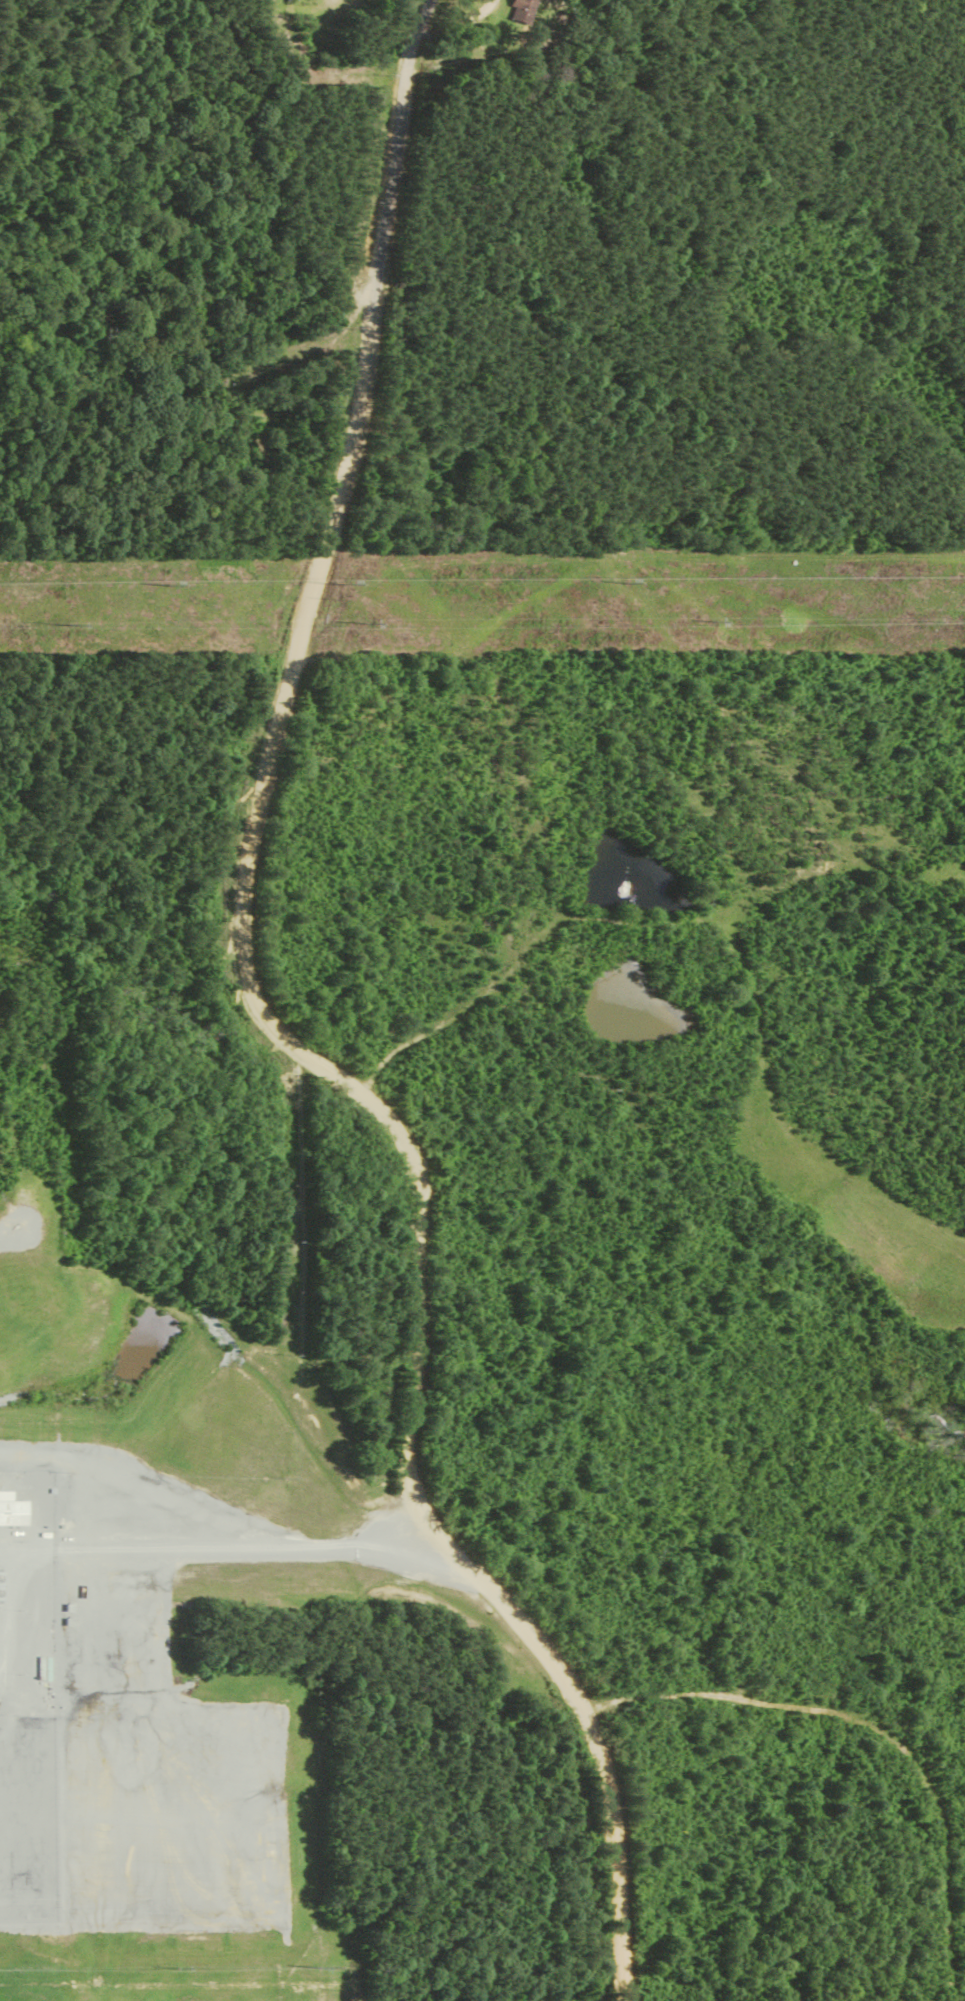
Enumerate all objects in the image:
building: (522, 13)
building: (251, 442)
building: (242, 460)
road: (274, 1028)
building: (14, 1516)
power plant: (29, 1592)
power substation: (29, 1818)

